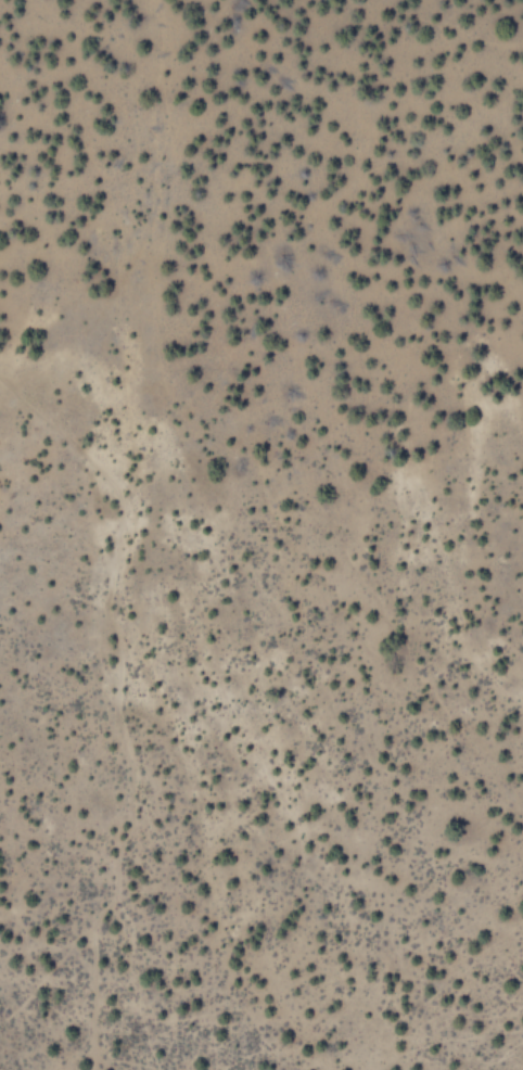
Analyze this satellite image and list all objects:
road: (118, 700)

